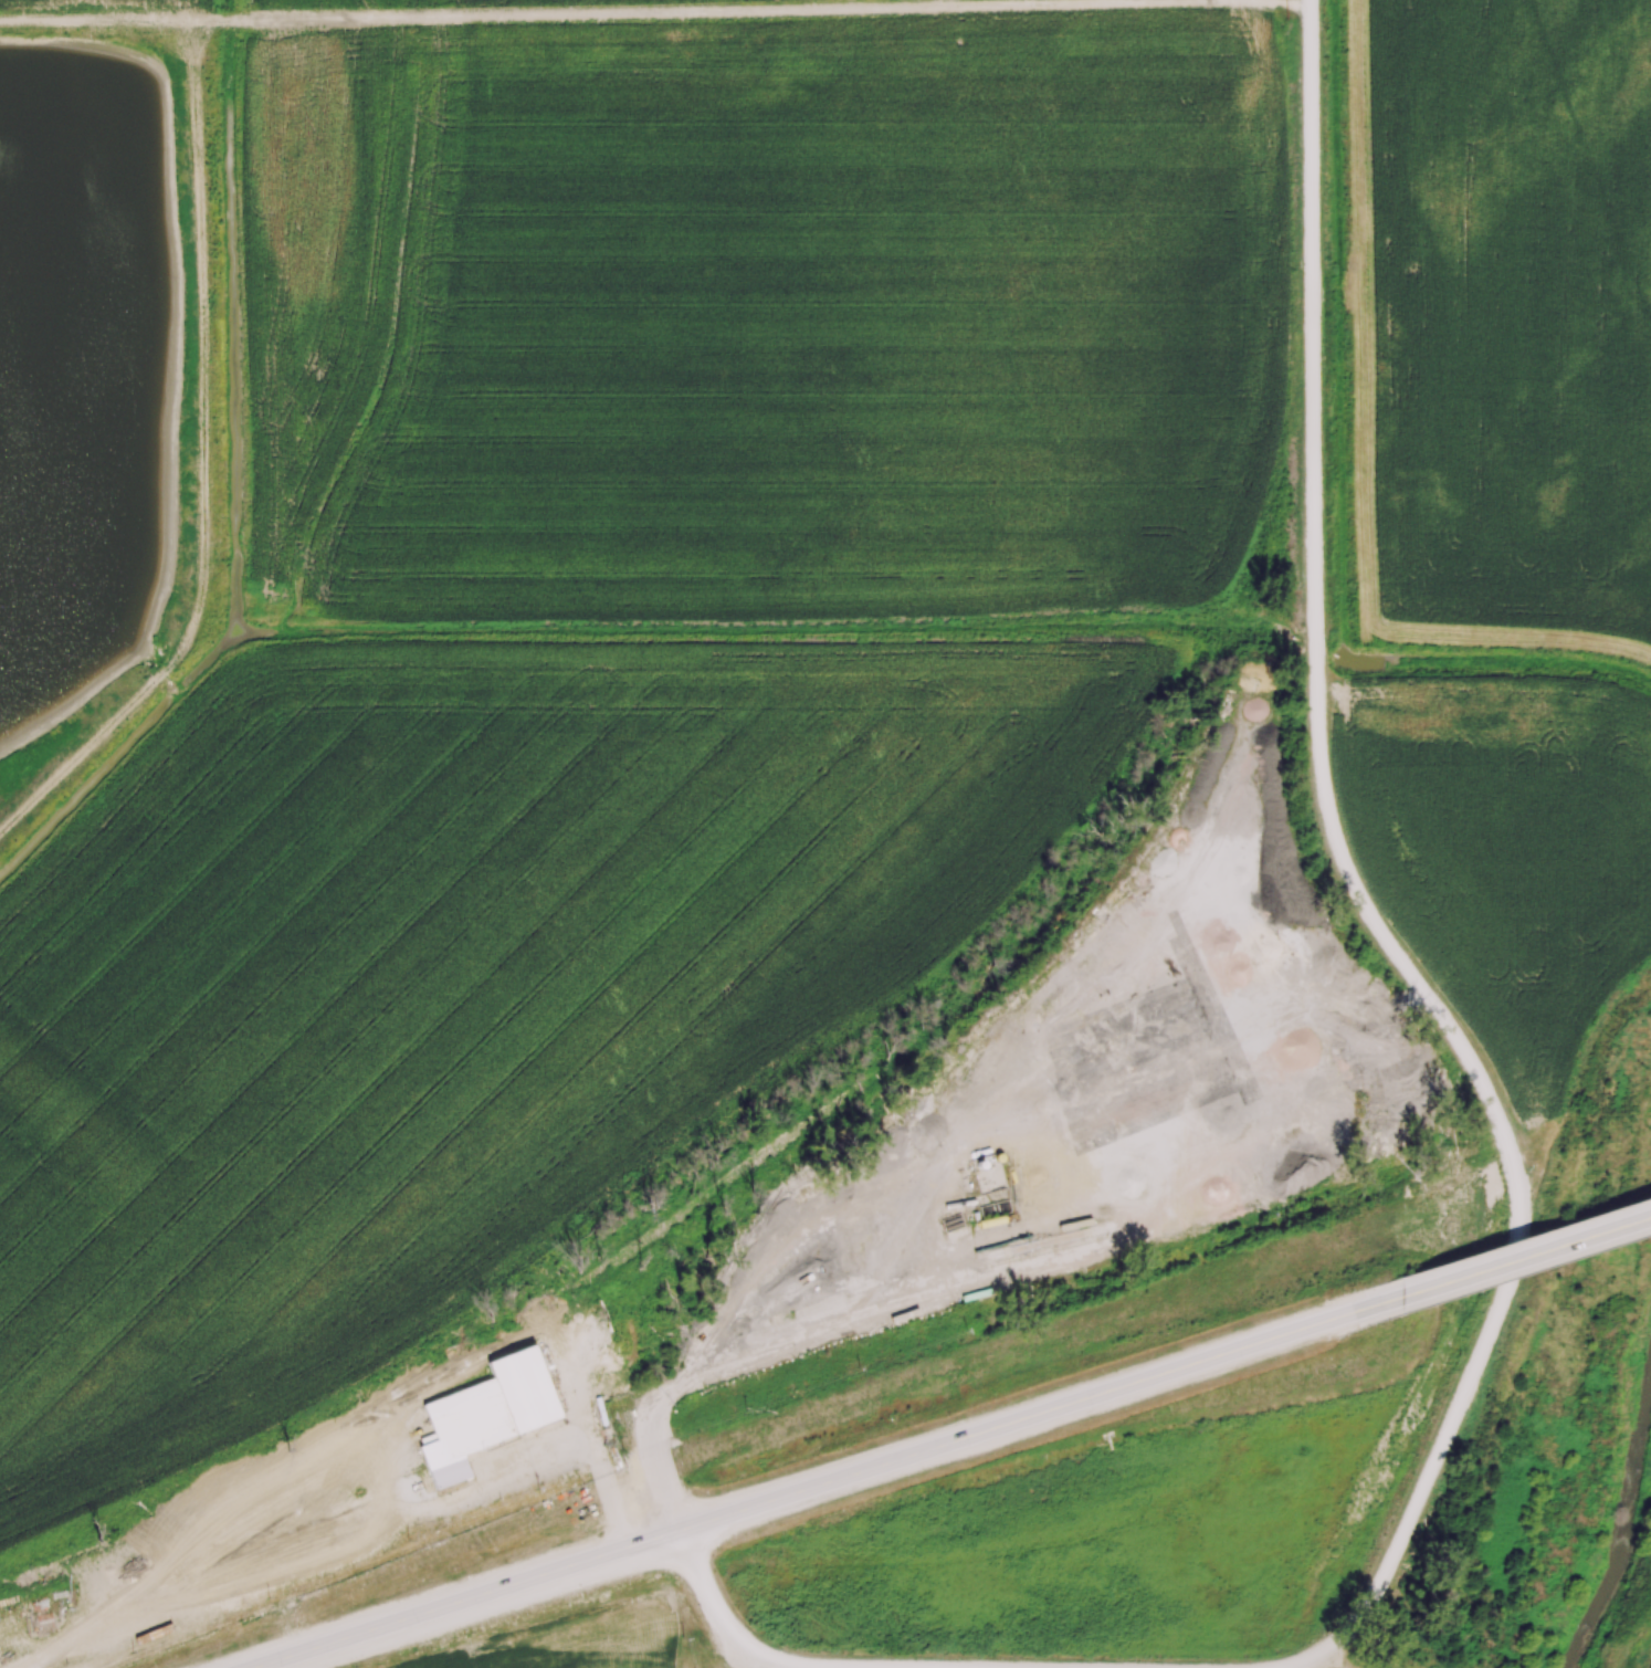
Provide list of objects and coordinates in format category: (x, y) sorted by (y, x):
road: (655, 13)
road: (1352, 887)
road: (1527, 1257)
road: (708, 1357)
building: (491, 1416)
road: (839, 1483)
road: (611, 1494)
river: (1628, 1540)
road: (719, 1619)

